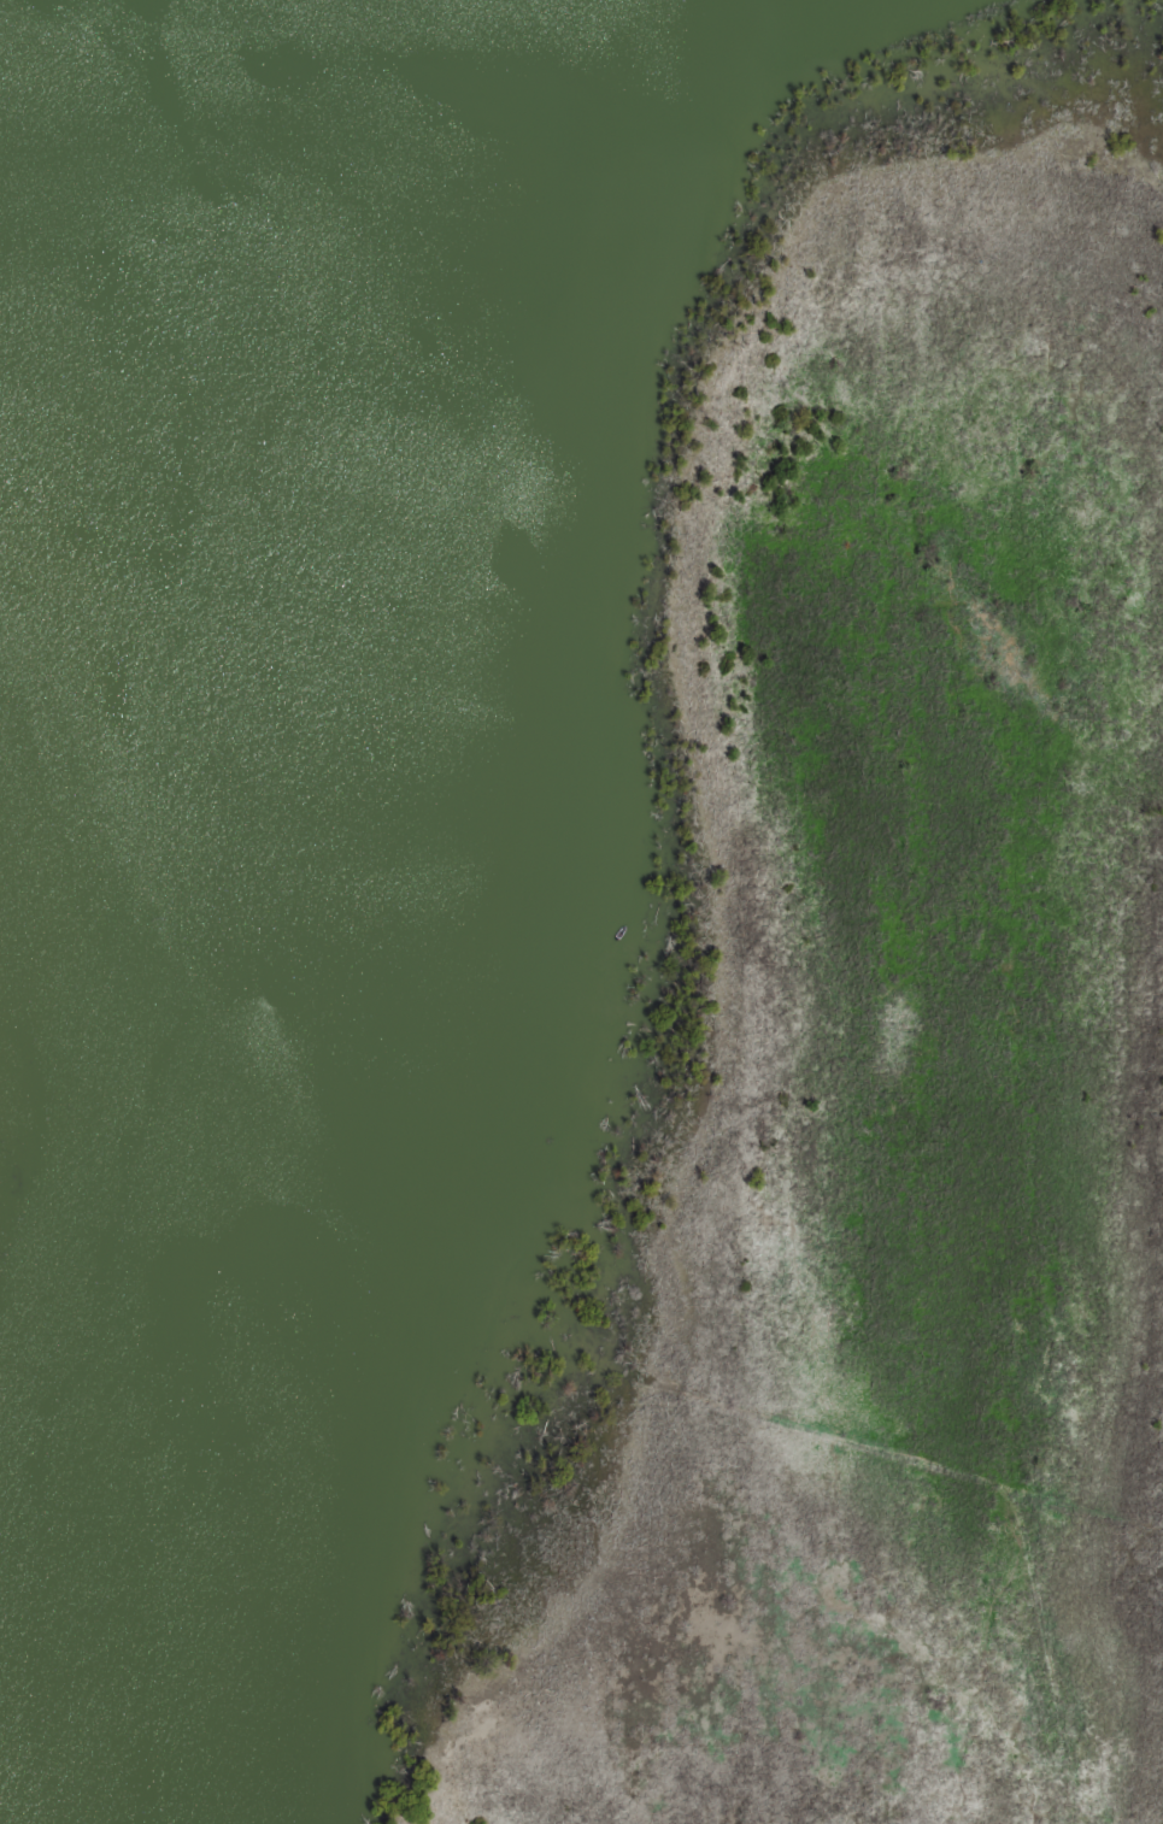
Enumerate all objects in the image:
river: (149, 910)

